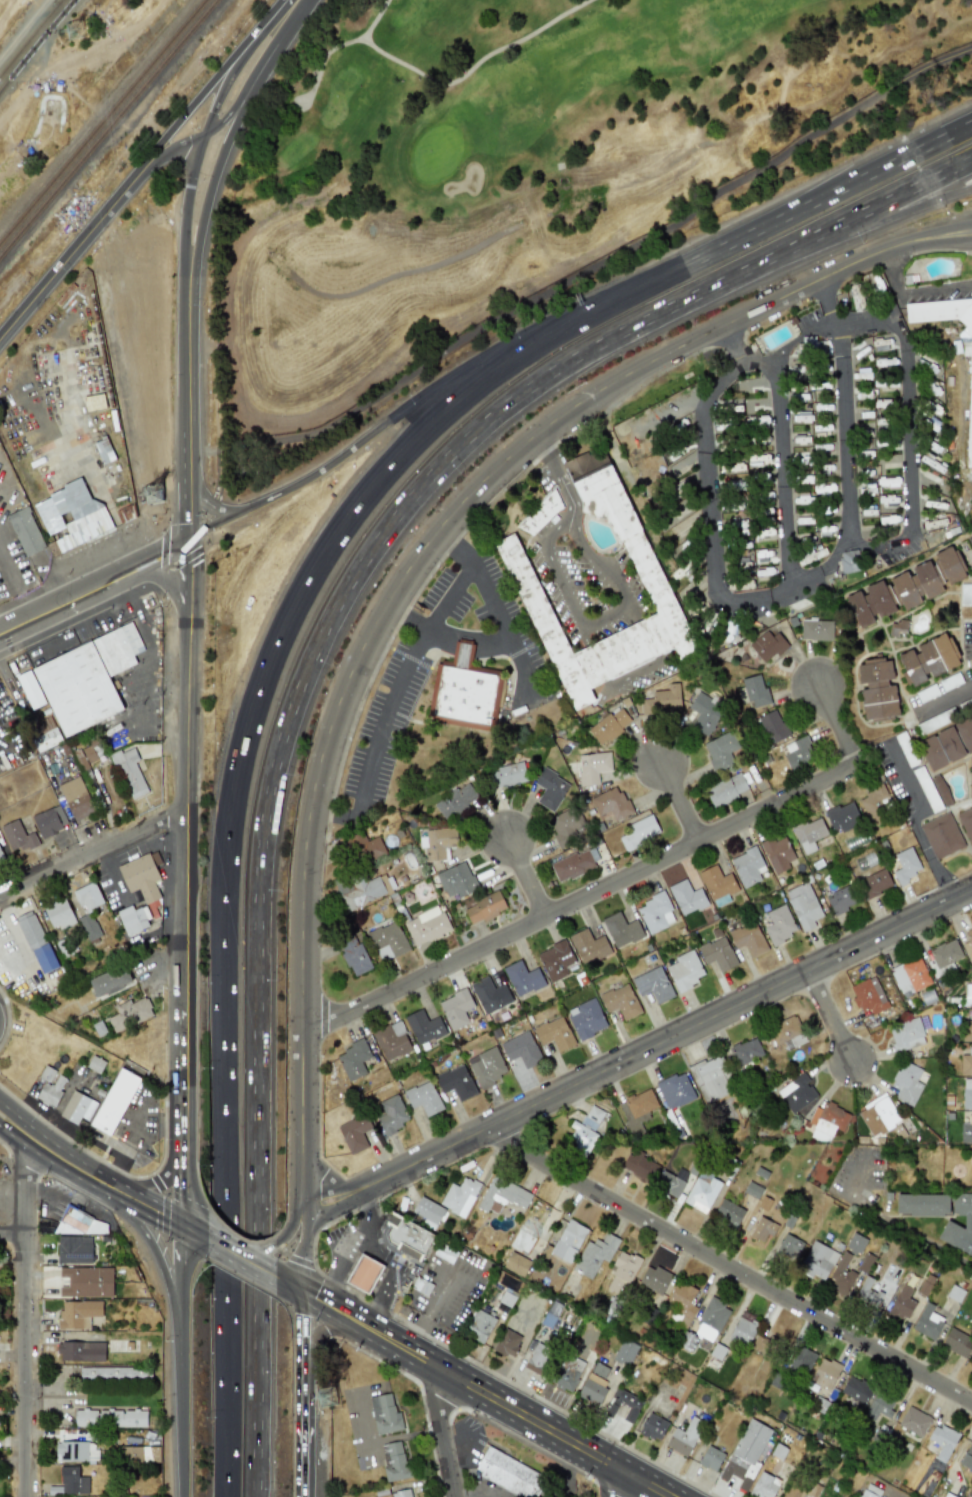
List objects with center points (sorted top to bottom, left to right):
road: (267, 20)
road: (288, 26)
power tower: (81, 29)
railway: (29, 36)
railway: (35, 44)
road: (224, 84)
road: (240, 94)
road: (187, 109)
railway: (103, 122)
railway: (109, 129)
park: (521, 138)
road: (164, 153)
road: (215, 169)
road: (843, 186)
road: (908, 190)
road: (909, 209)
road: (185, 212)
road: (926, 237)
road: (927, 251)
road: (65, 262)
road: (889, 271)
road: (577, 275)
road: (934, 288)
road: (826, 300)
road: (733, 319)
building: (882, 344)
road: (730, 345)
building: (815, 346)
building: (862, 348)
road: (466, 368)
building: (885, 373)
road: (187, 388)
building: (94, 402)
building: (970, 411)
road: (906, 432)
building: (932, 447)
building: (730, 464)
road: (554, 466)
road: (781, 473)
building: (734, 487)
building: (824, 490)
power tower: (159, 493)
road: (206, 502)
road: (186, 510)
building: (541, 513)
building: (73, 516)
road: (558, 522)
road: (576, 524)
road: (210, 527)
building: (25, 531)
building: (971, 535)
road: (155, 555)
building: (809, 555)
building: (764, 556)
road: (593, 559)
building: (849, 561)
road: (187, 574)
road: (162, 576)
building: (650, 578)
road: (17, 583)
road: (393, 587)
building: (906, 588)
road: (412, 599)
road: (722, 600)
road: (62, 601)
road: (436, 609)
road: (405, 615)
road: (583, 624)
road: (439, 629)
building: (816, 629)
building: (767, 645)
building: (928, 660)
road: (524, 662)
building: (87, 679)
building: (30, 690)
building: (464, 690)
building: (878, 690)
building: (755, 692)
road: (945, 696)
building: (660, 699)
building: (704, 714)
road: (290, 723)
building: (609, 725)
building: (772, 726)
road: (836, 726)
building: (965, 733)
building: (942, 748)
building: (720, 750)
building: (798, 751)
road: (239, 766)
building: (592, 766)
building: (129, 771)
building: (508, 775)
building: (970, 776)
road: (908, 783)
building: (550, 789)
building: (726, 789)
building: (76, 798)
building: (455, 800)
road: (677, 801)
building: (609, 804)
building: (871, 804)
building: (842, 816)
building: (50, 821)
building: (966, 823)
building: (567, 824)
building: (639, 832)
building: (808, 834)
building: (941, 835)
building: (17, 837)
building: (439, 842)
building: (365, 847)
road: (91, 851)
building: (777, 853)
building: (0, 856)
building: (865, 860)
road: (931, 860)
building: (905, 864)
building: (572, 865)
building: (747, 866)
building: (142, 876)
road: (524, 876)
building: (457, 881)
building: (716, 882)
building: (875, 882)
building: (362, 890)
building: (87, 897)
building: (687, 897)
road: (578, 898)
building: (840, 900)
building: (803, 905)
building: (484, 908)
building: (655, 912)
building: (59, 914)
road: (184, 916)
building: (133, 920)
building: (779, 924)
building: (426, 926)
building: (89, 927)
building: (621, 929)
road: (13, 931)
building: (748, 938)
building: (387, 940)
building: (36, 942)
building: (968, 944)
building: (589, 946)
building: (717, 953)
building: (945, 953)
building: (354, 956)
building: (556, 960)
building: (685, 970)
building: (910, 975)
building: (522, 977)
building: (110, 981)
building: (653, 984)
building: (971, 989)
building: (489, 994)
building: (867, 996)
building: (620, 1001)
building: (455, 1009)
road: (300, 1014)
building: (130, 1015)
road: (827, 1016)
building: (586, 1018)
building: (424, 1027)
building: (400, 1029)
building: (967, 1030)
building: (554, 1033)
building: (787, 1033)
building: (906, 1034)
road: (668, 1037)
building: (393, 1043)
building: (521, 1049)
building: (745, 1051)
building: (356, 1060)
building: (966, 1063)
building: (487, 1066)
building: (710, 1077)
building: (458, 1082)
building: (906, 1083)
building: (675, 1090)
building: (51, 1092)
building: (796, 1092)
building: (967, 1093)
building: (426, 1098)
building: (115, 1101)
building: (638, 1103)
building: (77, 1107)
building: (394, 1115)
building: (877, 1115)
building: (828, 1118)
building: (585, 1130)
building: (966, 1131)
building: (358, 1132)
building: (819, 1136)
road: (63, 1151)
building: (639, 1165)
road: (63, 1170)
road: (168, 1177)
road: (322, 1186)
road: (355, 1186)
building: (702, 1192)
building: (502, 1194)
building: (459, 1196)
road: (147, 1198)
road: (304, 1203)
building: (922, 1204)
road: (338, 1207)
road: (367, 1212)
building: (428, 1212)
building: (728, 1213)
road: (143, 1214)
road: (172, 1215)
road: (293, 1218)
road: (888, 1220)
road: (170, 1223)
building: (949, 1223)
traffic signals: (183, 1225)
building: (762, 1229)
road: (194, 1231)
road: (12, 1233)
building: (406, 1236)
building: (521, 1240)
road: (362, 1241)
building: (568, 1241)
building: (855, 1243)
road: (217, 1244)
road: (183, 1246)
building: (789, 1247)
building: (75, 1249)
road: (251, 1250)
building: (595, 1253)
road: (302, 1256)
building: (817, 1260)
road: (251, 1264)
building: (516, 1264)
road: (728, 1267)
road: (168, 1270)
building: (621, 1271)
building: (363, 1273)
building: (841, 1275)
building: (654, 1279)
building: (87, 1281)
road: (327, 1285)
traffic signals: (300, 1291)
building: (508, 1291)
building: (867, 1292)
building: (955, 1293)
road: (381, 1300)
building: (683, 1301)
building: (902, 1302)
road: (324, 1304)
building: (79, 1313)
building: (710, 1319)
building: (927, 1321)
road: (24, 1323)
building: (479, 1325)
building: (744, 1329)
road: (323, 1332)
road: (299, 1335)
building: (507, 1342)
building: (957, 1342)
building: (757, 1343)
building: (81, 1351)
building: (625, 1352)
road: (466, 1358)
building: (538, 1358)
building: (802, 1360)
building: (567, 1372)
building: (103, 1373)
building: (825, 1373)
road: (183, 1382)
building: (594, 1383)
building: (855, 1389)
power tower: (331, 1397)
building: (623, 1404)
building: (878, 1406)
road: (522, 1414)
building: (386, 1415)
building: (111, 1417)
building: (914, 1421)
building: (653, 1427)
road: (439, 1434)
building: (684, 1436)
road: (305, 1438)
building: (942, 1441)
building: (72, 1451)
building: (142, 1453)
building: (745, 1453)
building: (967, 1457)
building: (710, 1458)
building: (394, 1460)
building: (509, 1473)
building: (72, 1481)
road: (608, 1481)
building: (764, 1485)
building: (810, 1490)
building: (871, 1491)
building: (970, 1492)
building: (401, 1493)
building: (147, 1496)

